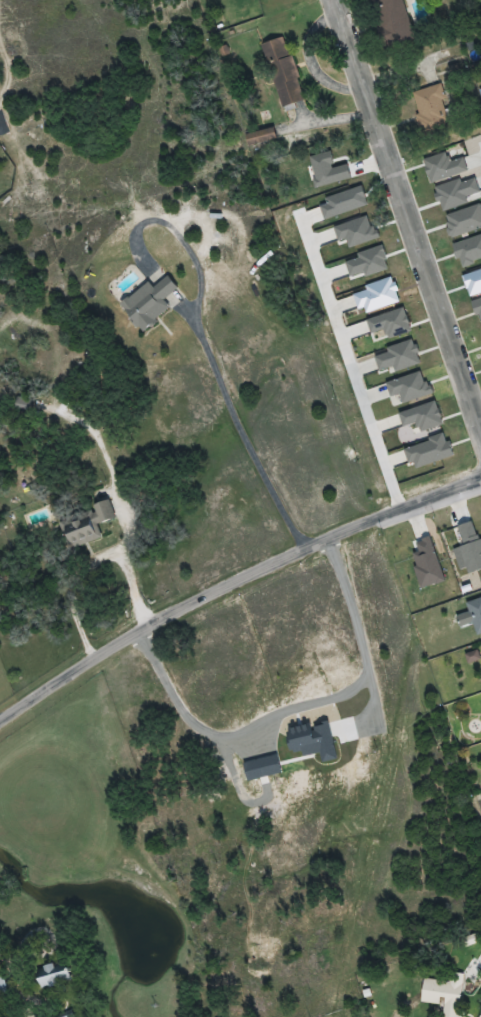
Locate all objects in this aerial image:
building: (395, 22)
building: (284, 72)
building: (432, 110)
building: (261, 136)
road: (410, 206)
building: (150, 303)
road: (405, 506)
building: (87, 524)
building: (475, 614)
road: (160, 618)
building: (55, 975)
building: (3, 987)
building: (444, 992)

